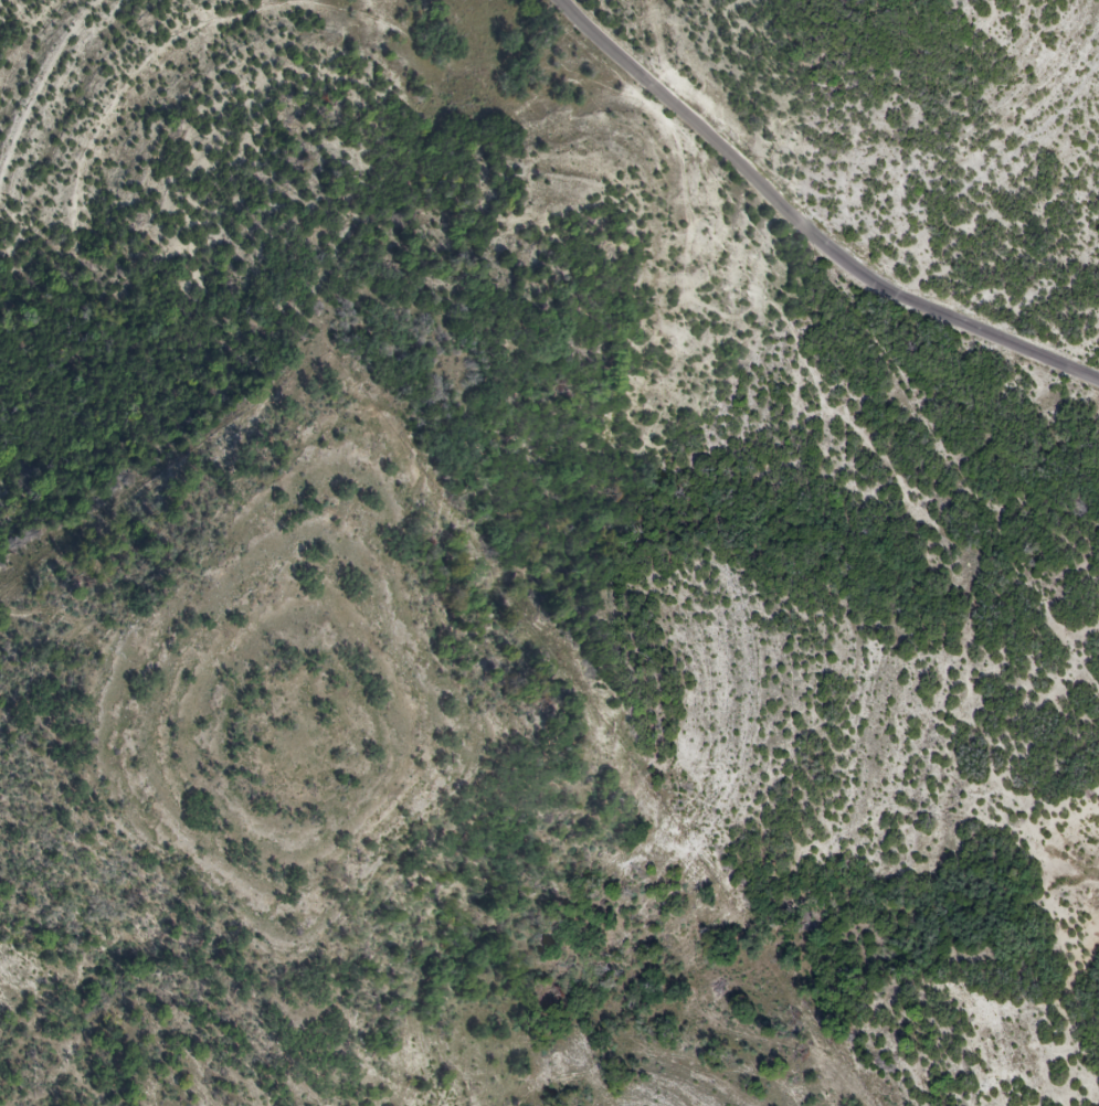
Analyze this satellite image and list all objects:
road: (802, 227)

